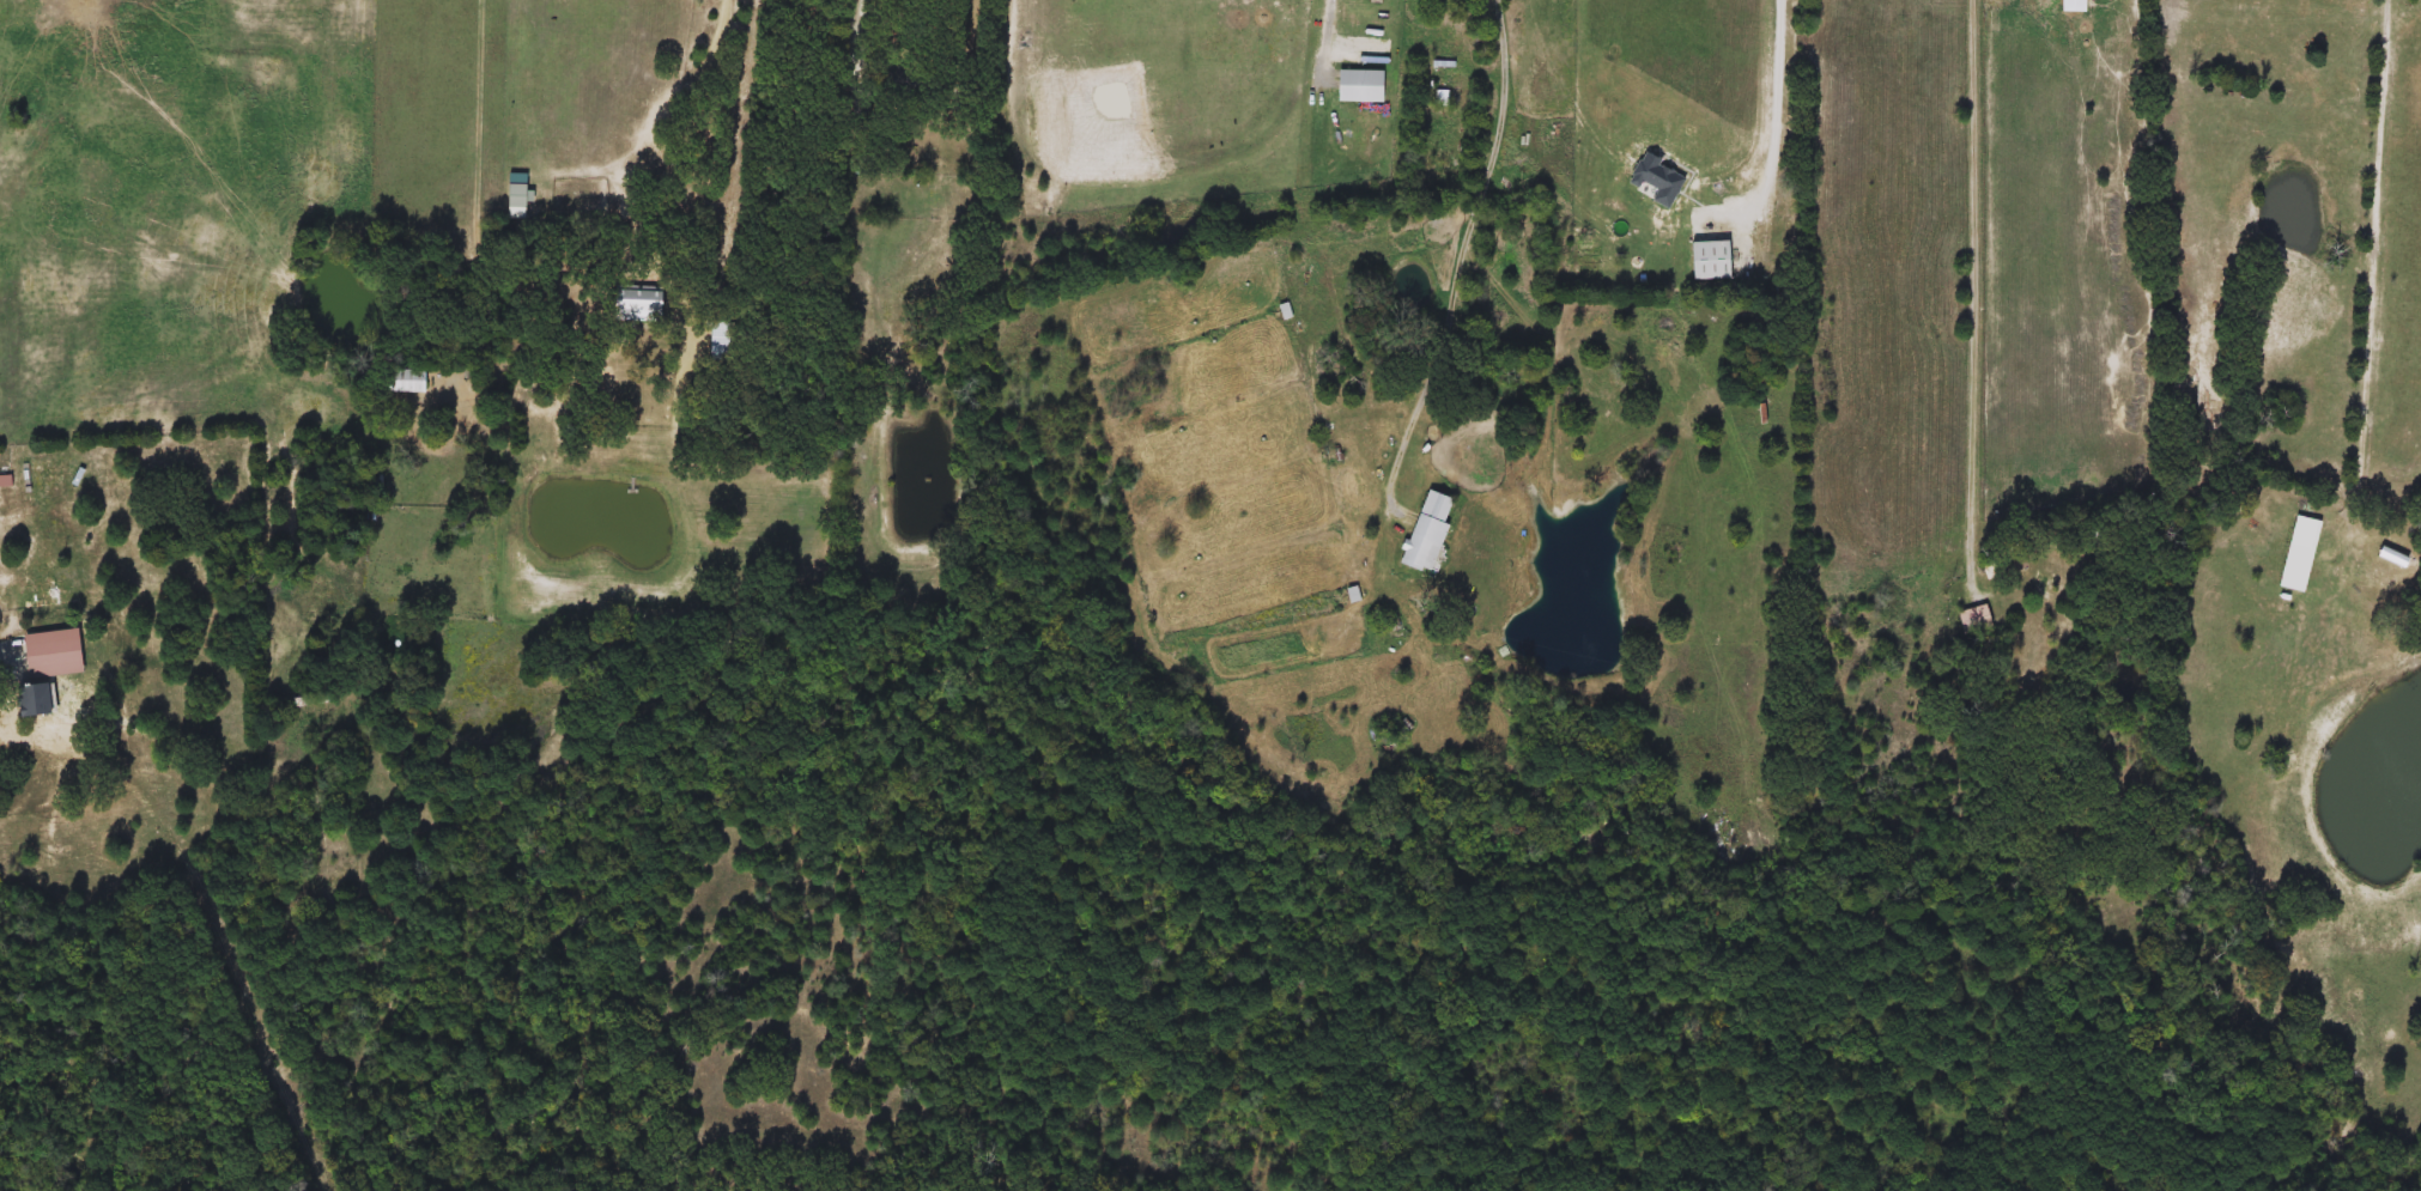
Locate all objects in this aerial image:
road: (1331, 30)
road: (849, 34)
building: (1358, 86)
road: (481, 104)
road: (1780, 108)
road: (686, 145)
road: (1536, 147)
building: (517, 195)
road: (2378, 243)
building: (1711, 260)
road: (1971, 291)
building: (633, 304)
road: (1455, 305)
building: (718, 340)
building: (406, 381)
building: (1427, 531)
building: (2010, 560)
building: (1974, 619)
building: (23, 668)
building: (32, 699)

